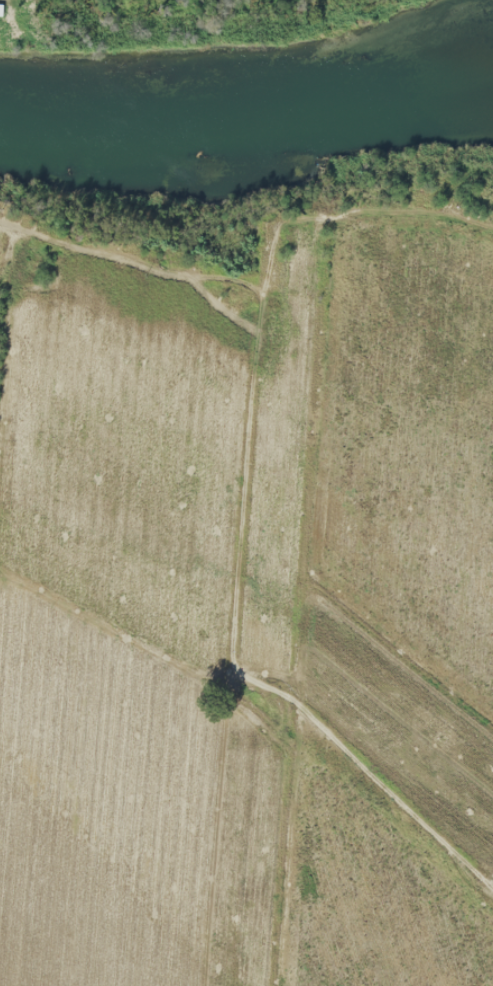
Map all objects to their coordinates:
river: (247, 96)

